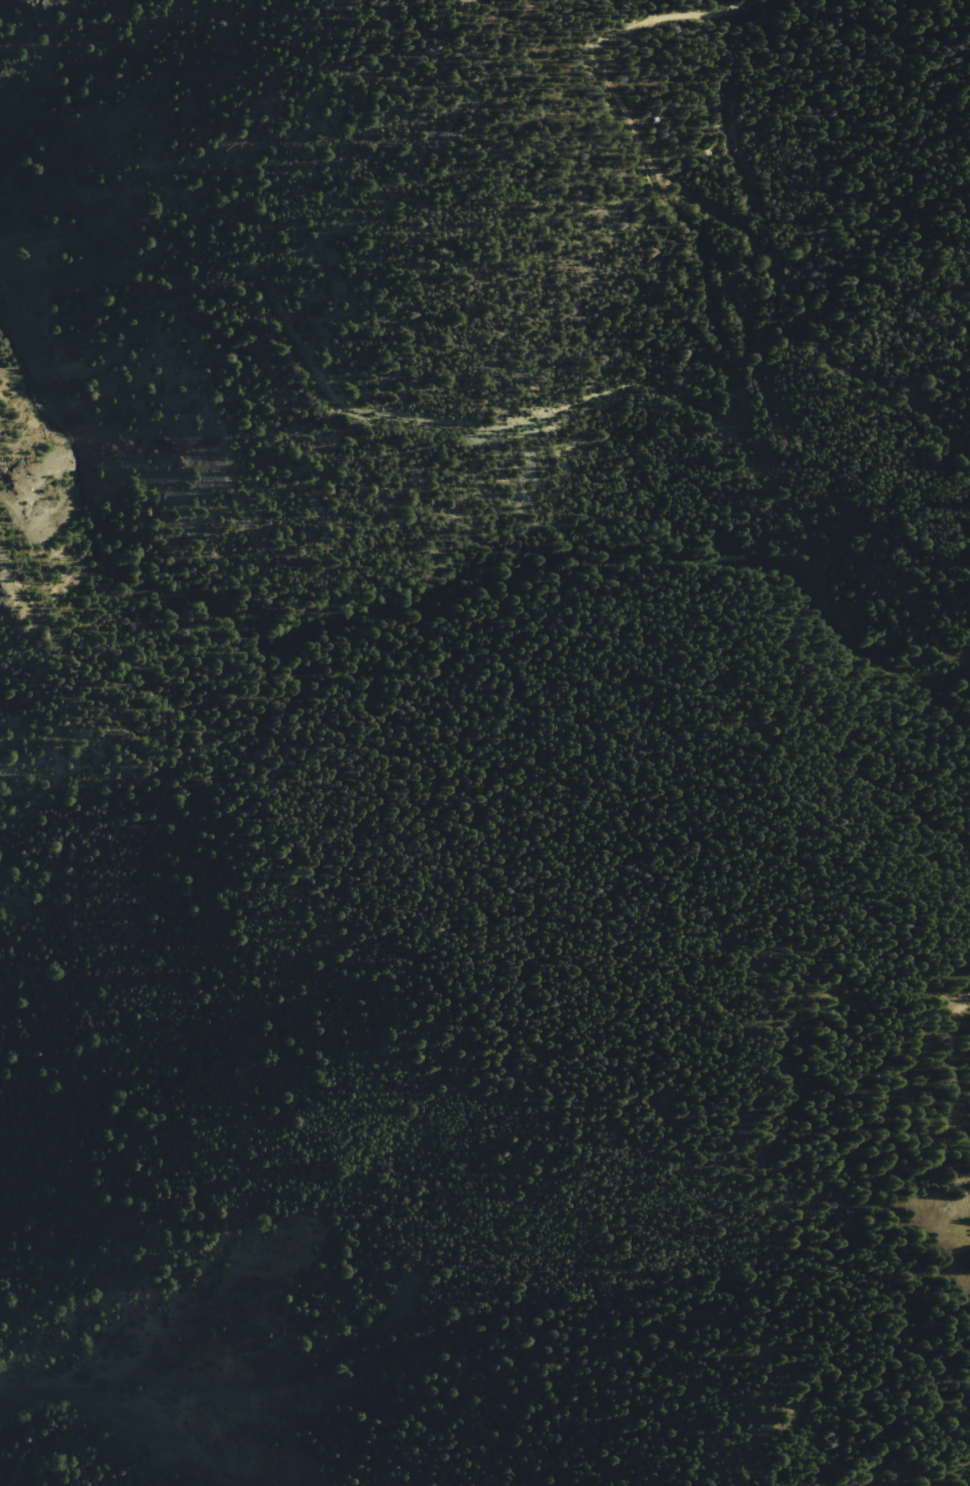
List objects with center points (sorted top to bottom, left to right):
road: (700, 203)
road: (37, 334)
road: (749, 348)
road: (596, 401)
road: (34, 406)
road: (752, 460)
road: (545, 565)
road: (953, 1110)
road: (767, 1135)

